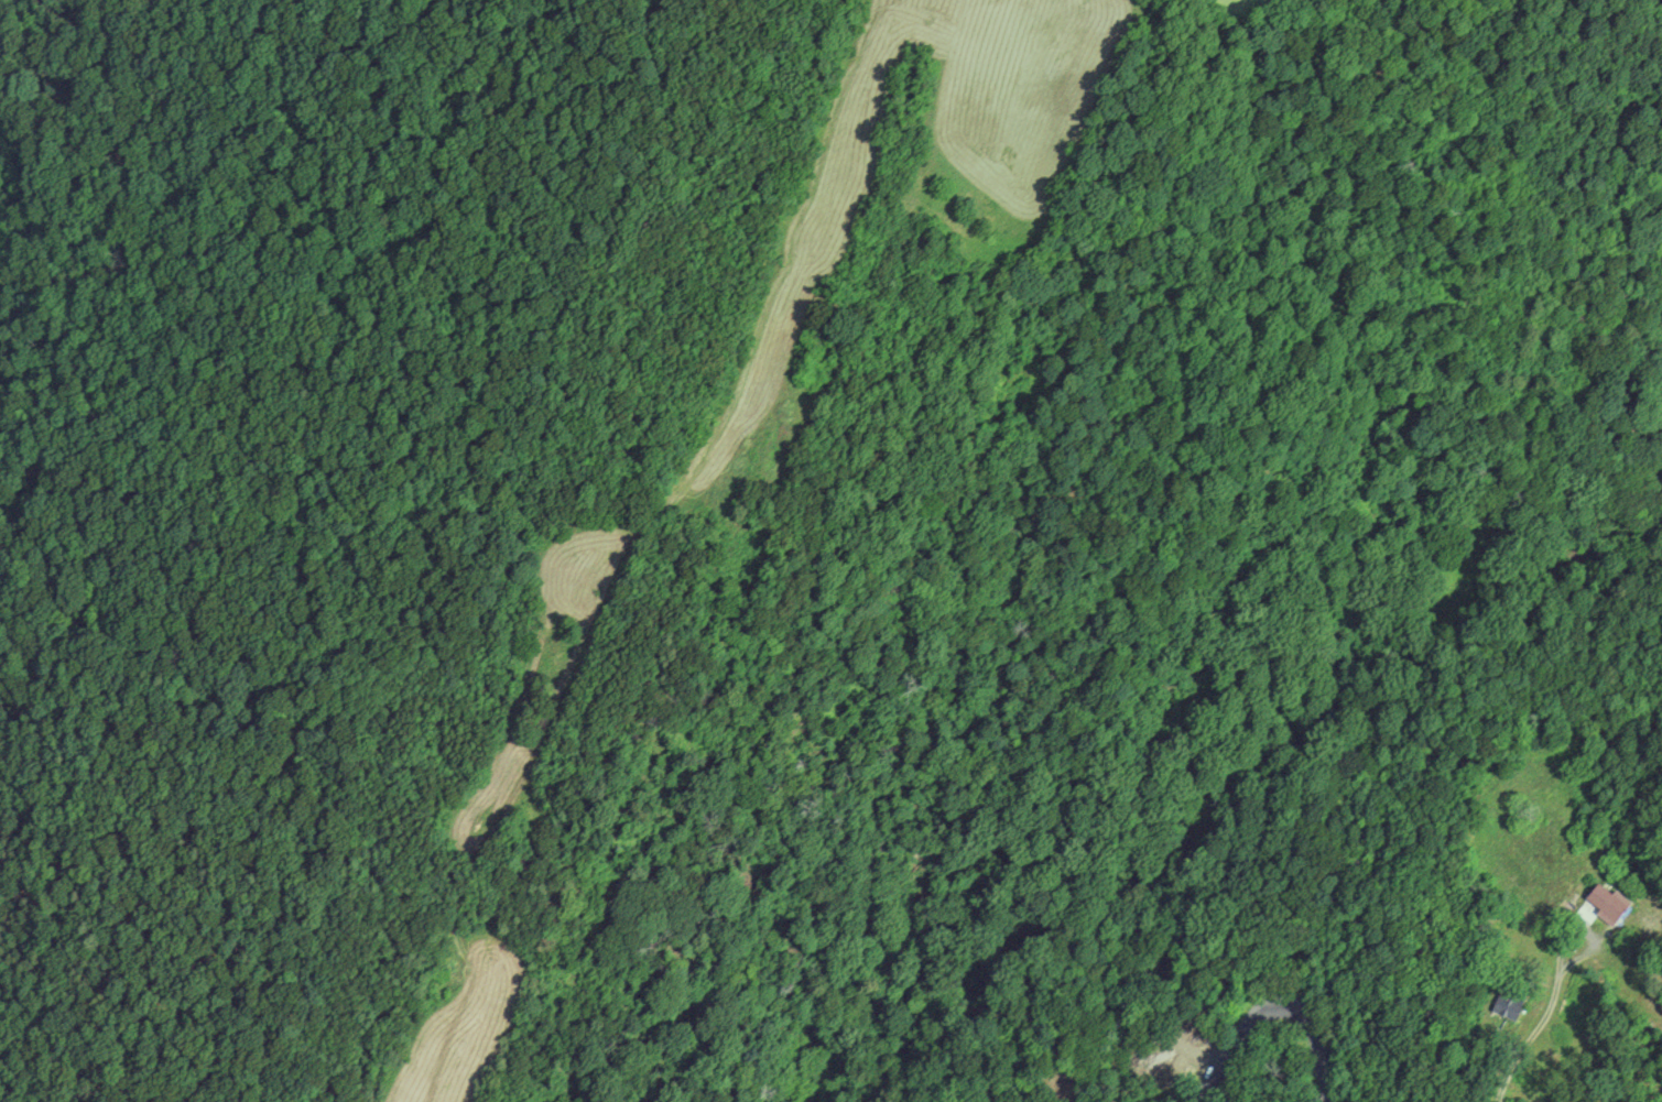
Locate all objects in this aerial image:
building: (1606, 902)
road: (1275, 1005)
road: (1520, 1051)

